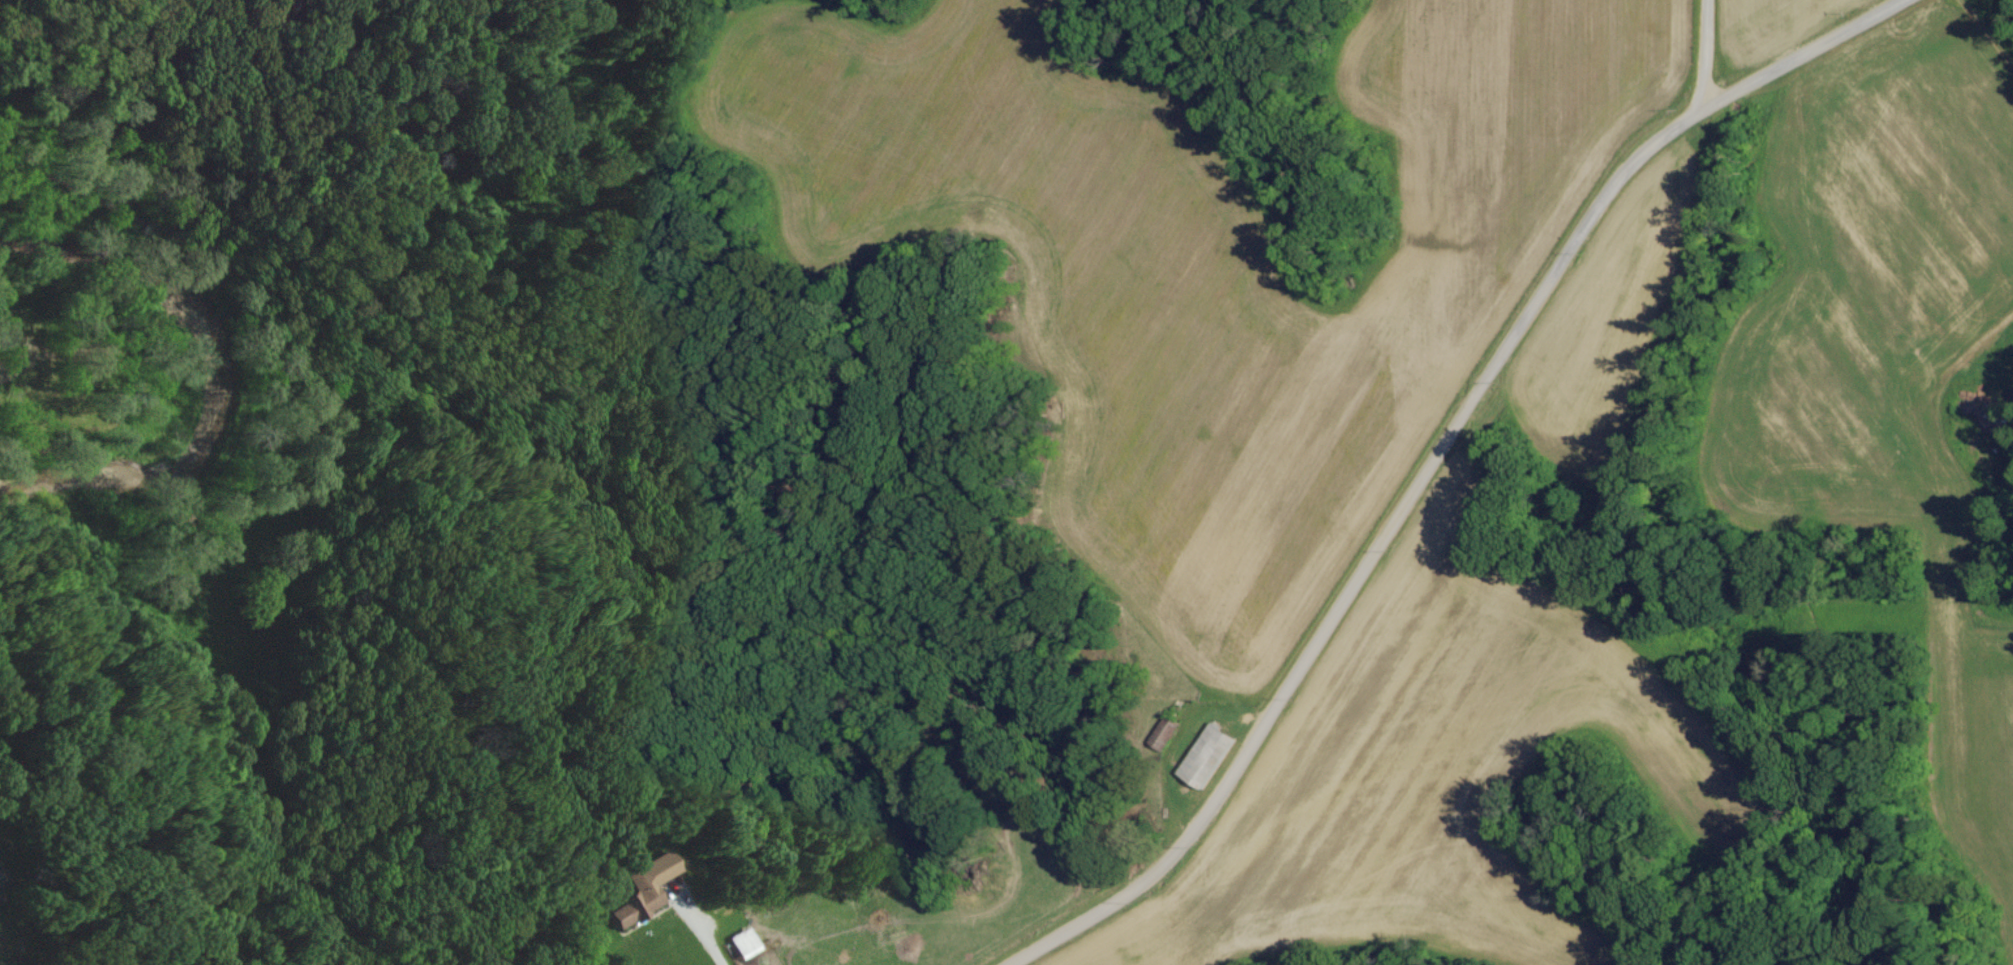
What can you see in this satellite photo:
road: (1700, 55)
road: (1430, 459)
building: (1163, 732)
building: (1206, 754)
building: (643, 888)
road: (684, 917)
building: (744, 942)

